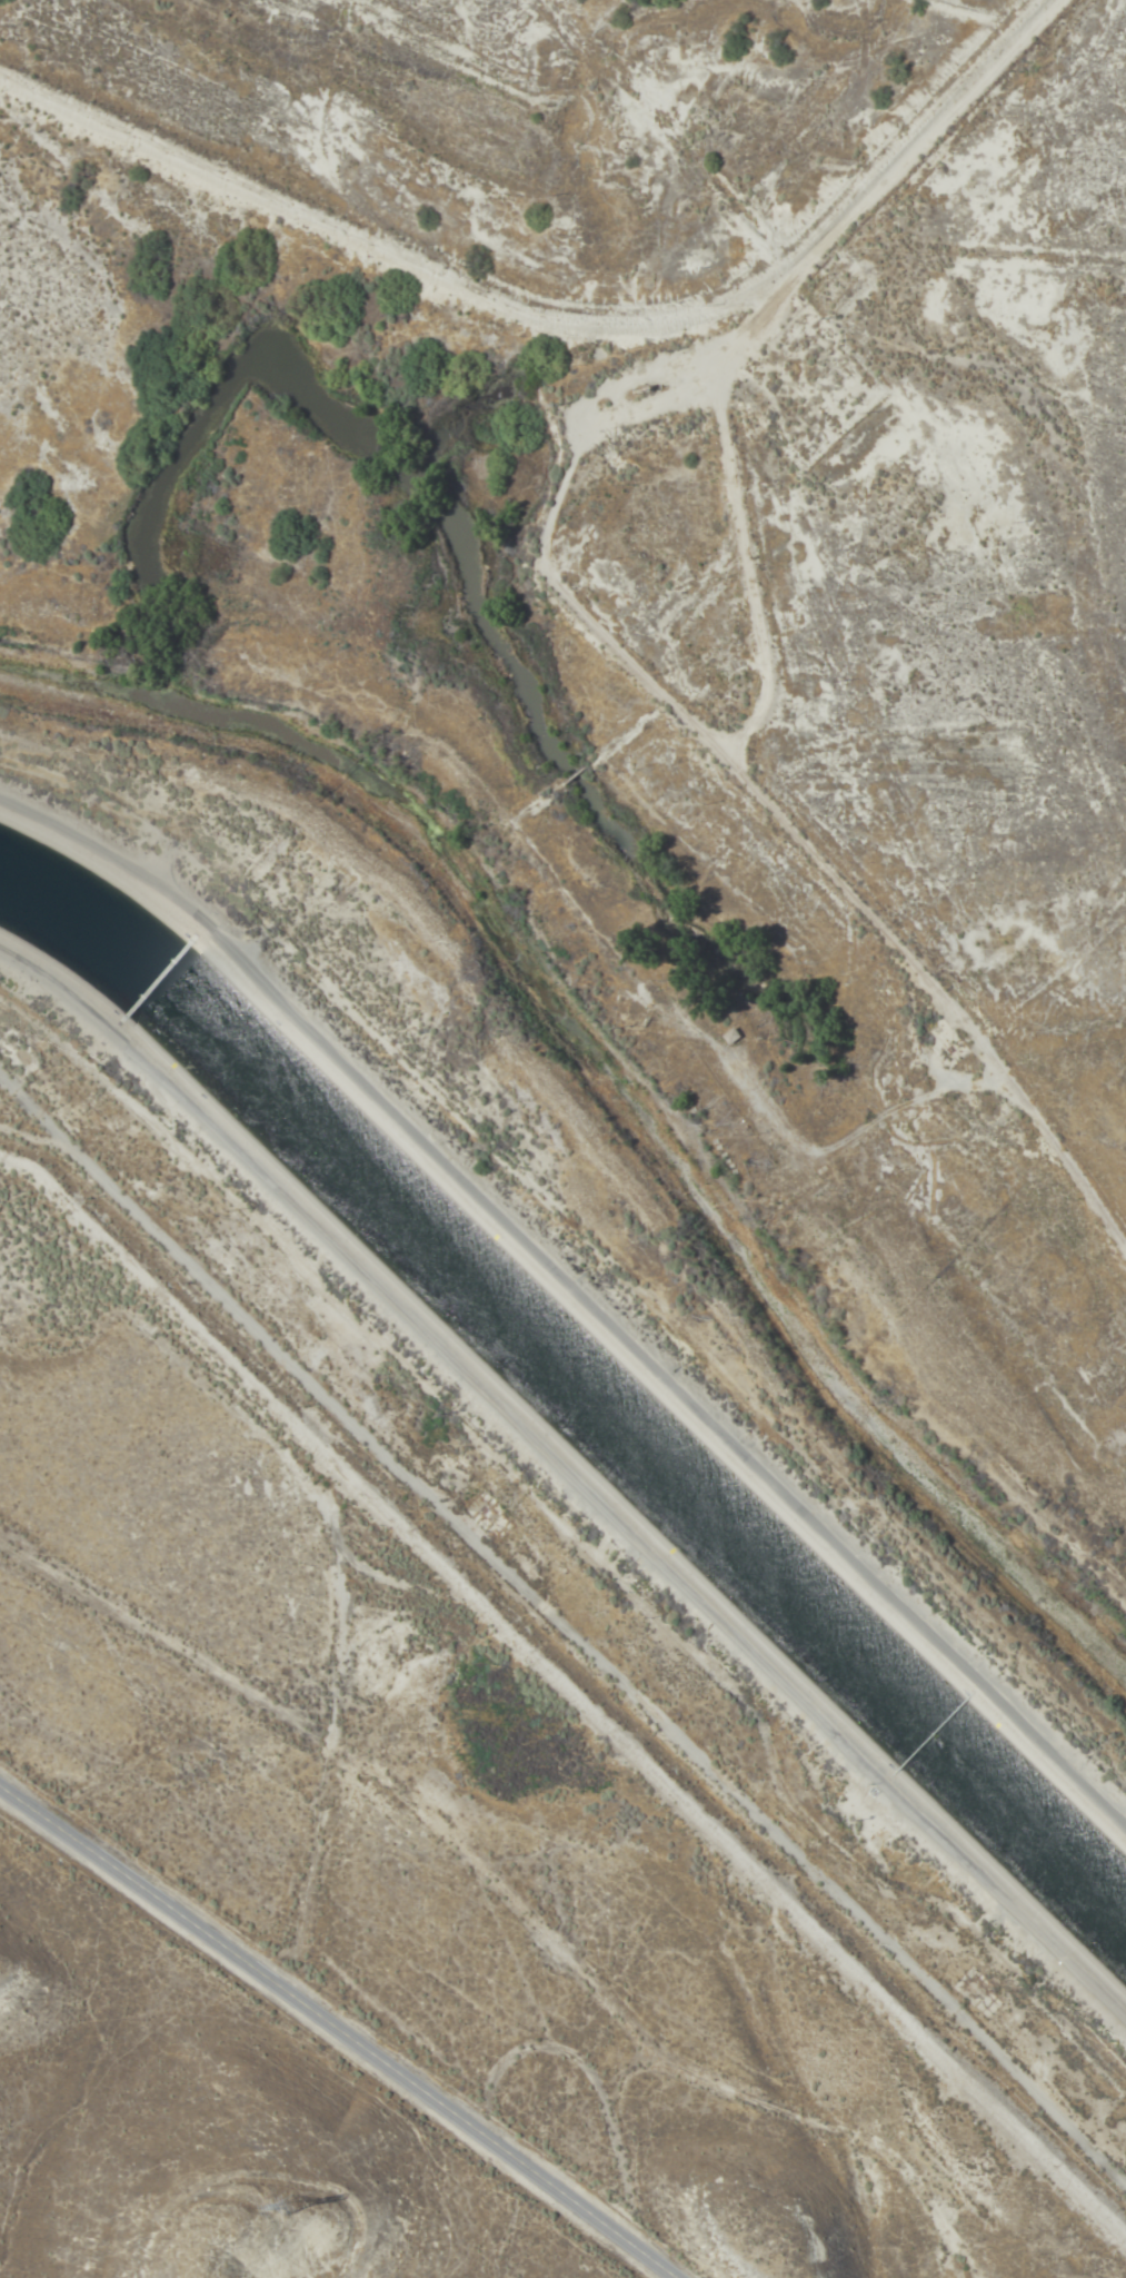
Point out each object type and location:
road: (552, 309)
road: (740, 564)
road: (717, 740)
building: (730, 1037)
road: (53, 1132)
road: (595, 1239)
road: (565, 1495)
road: (599, 1660)
road: (571, 1692)
road: (317, 1710)
road: (659, 1999)
road: (340, 2029)
road: (635, 2143)
power tower: (283, 2210)

